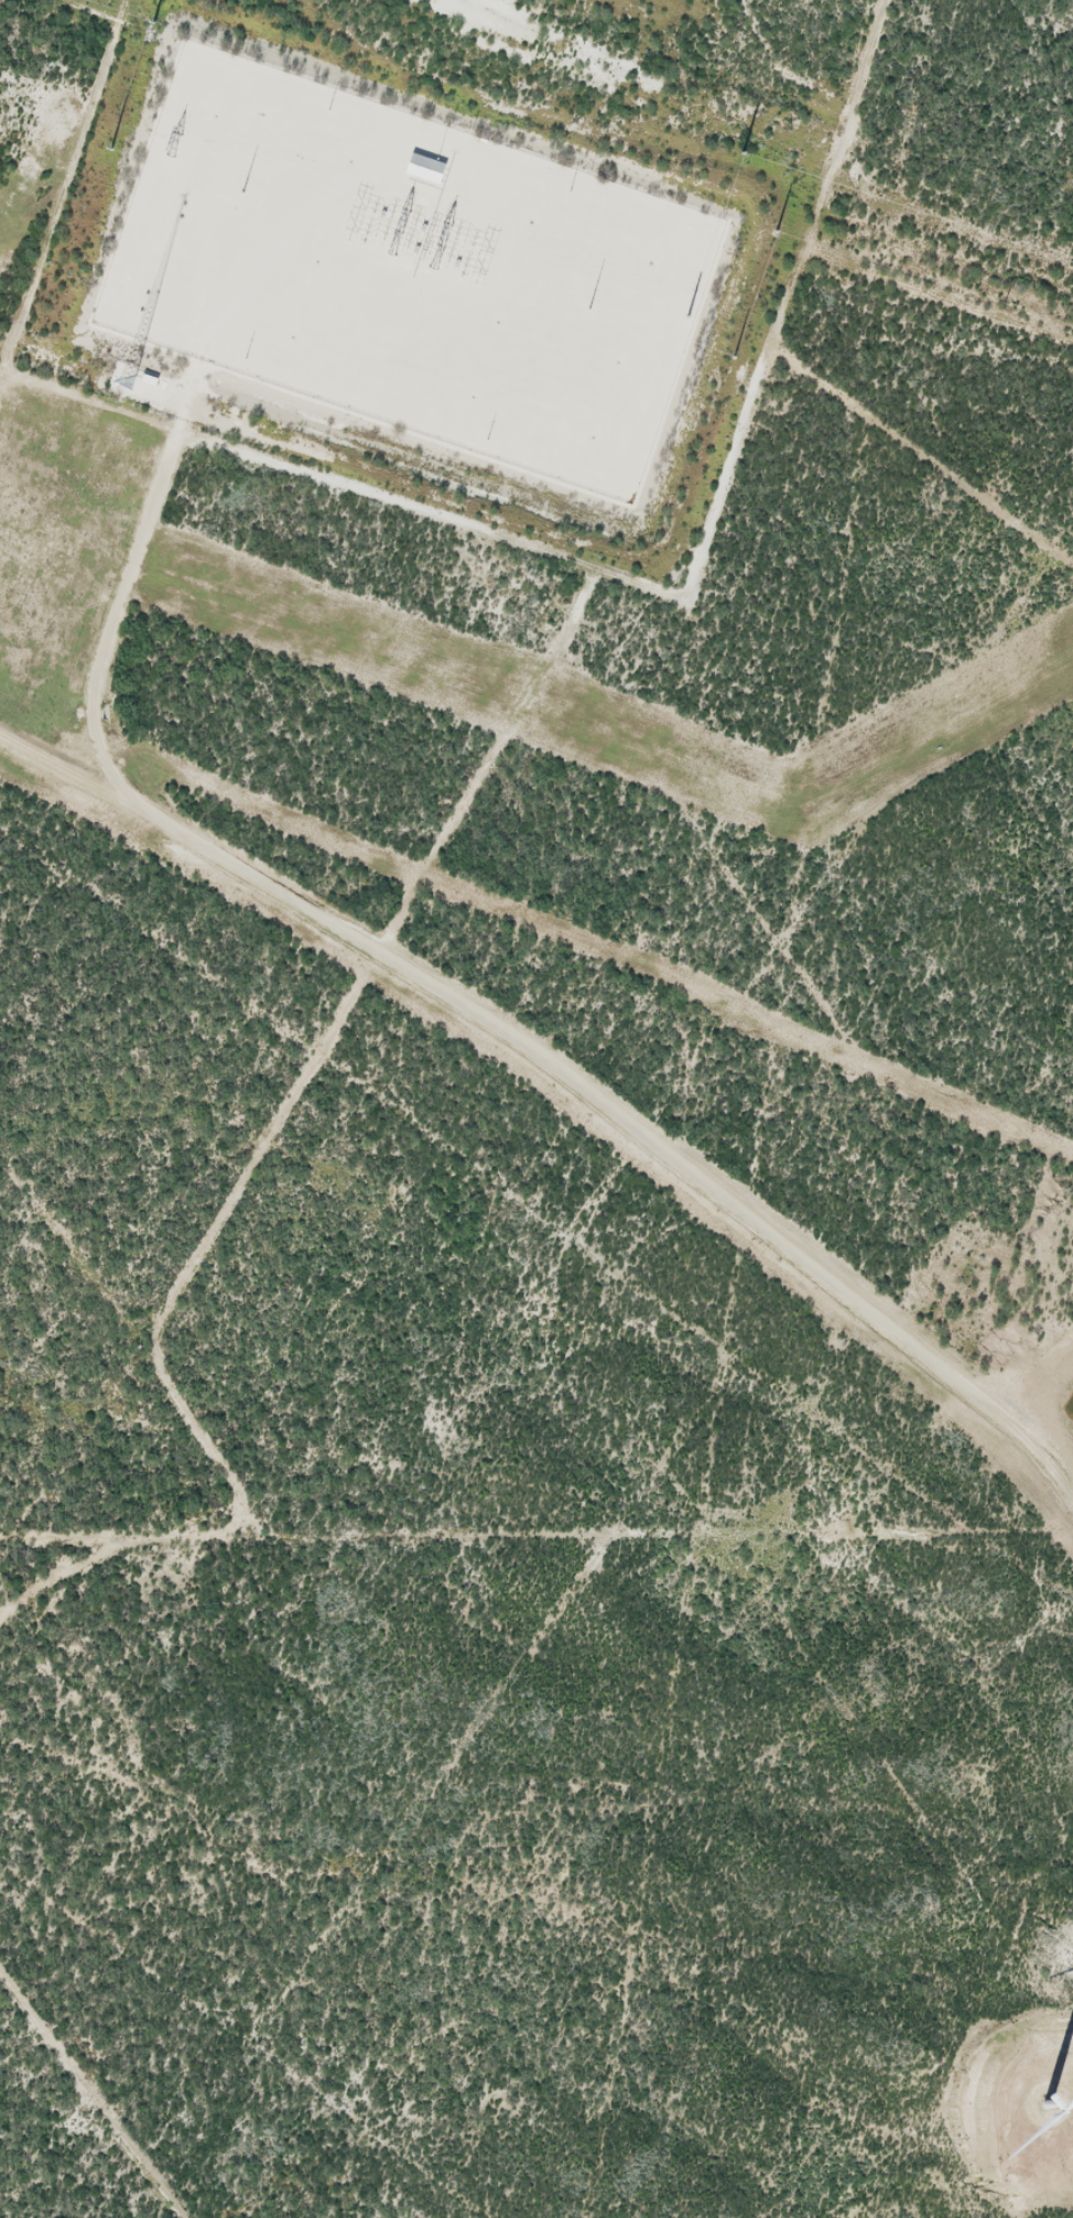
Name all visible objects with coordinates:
power tower: (153, 22)
road: (759, 104)
power tower: (112, 149)
power tower: (746, 152)
building: (422, 167)
power tower: (239, 192)
power tower: (774, 232)
power substation: (407, 271)
power tower: (587, 310)
power tower: (1002, 310)
power tower: (689, 317)
power tower: (733, 359)
building: (225, 408)
wind turbine: (1050, 2103)

